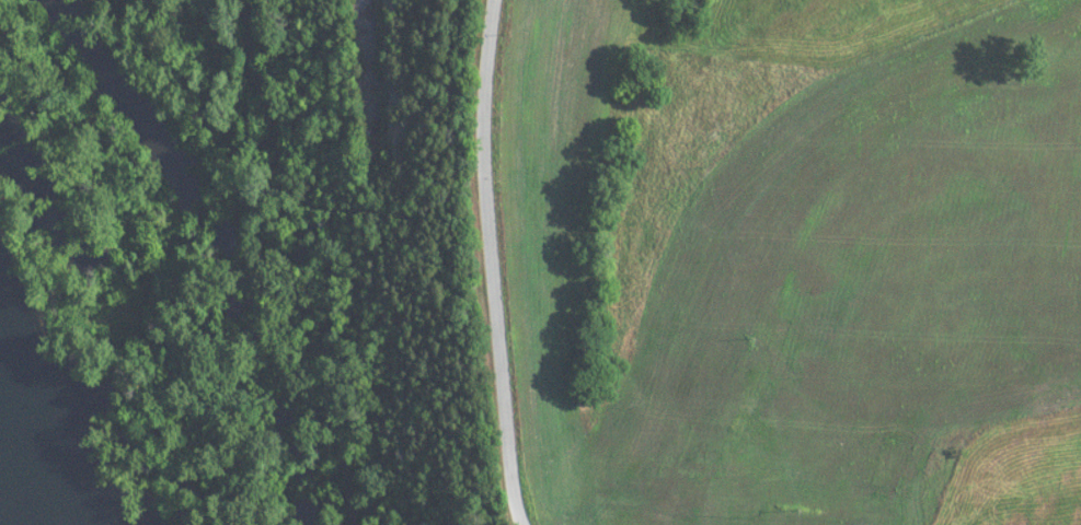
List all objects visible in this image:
road: (219, 197)
road: (496, 262)

